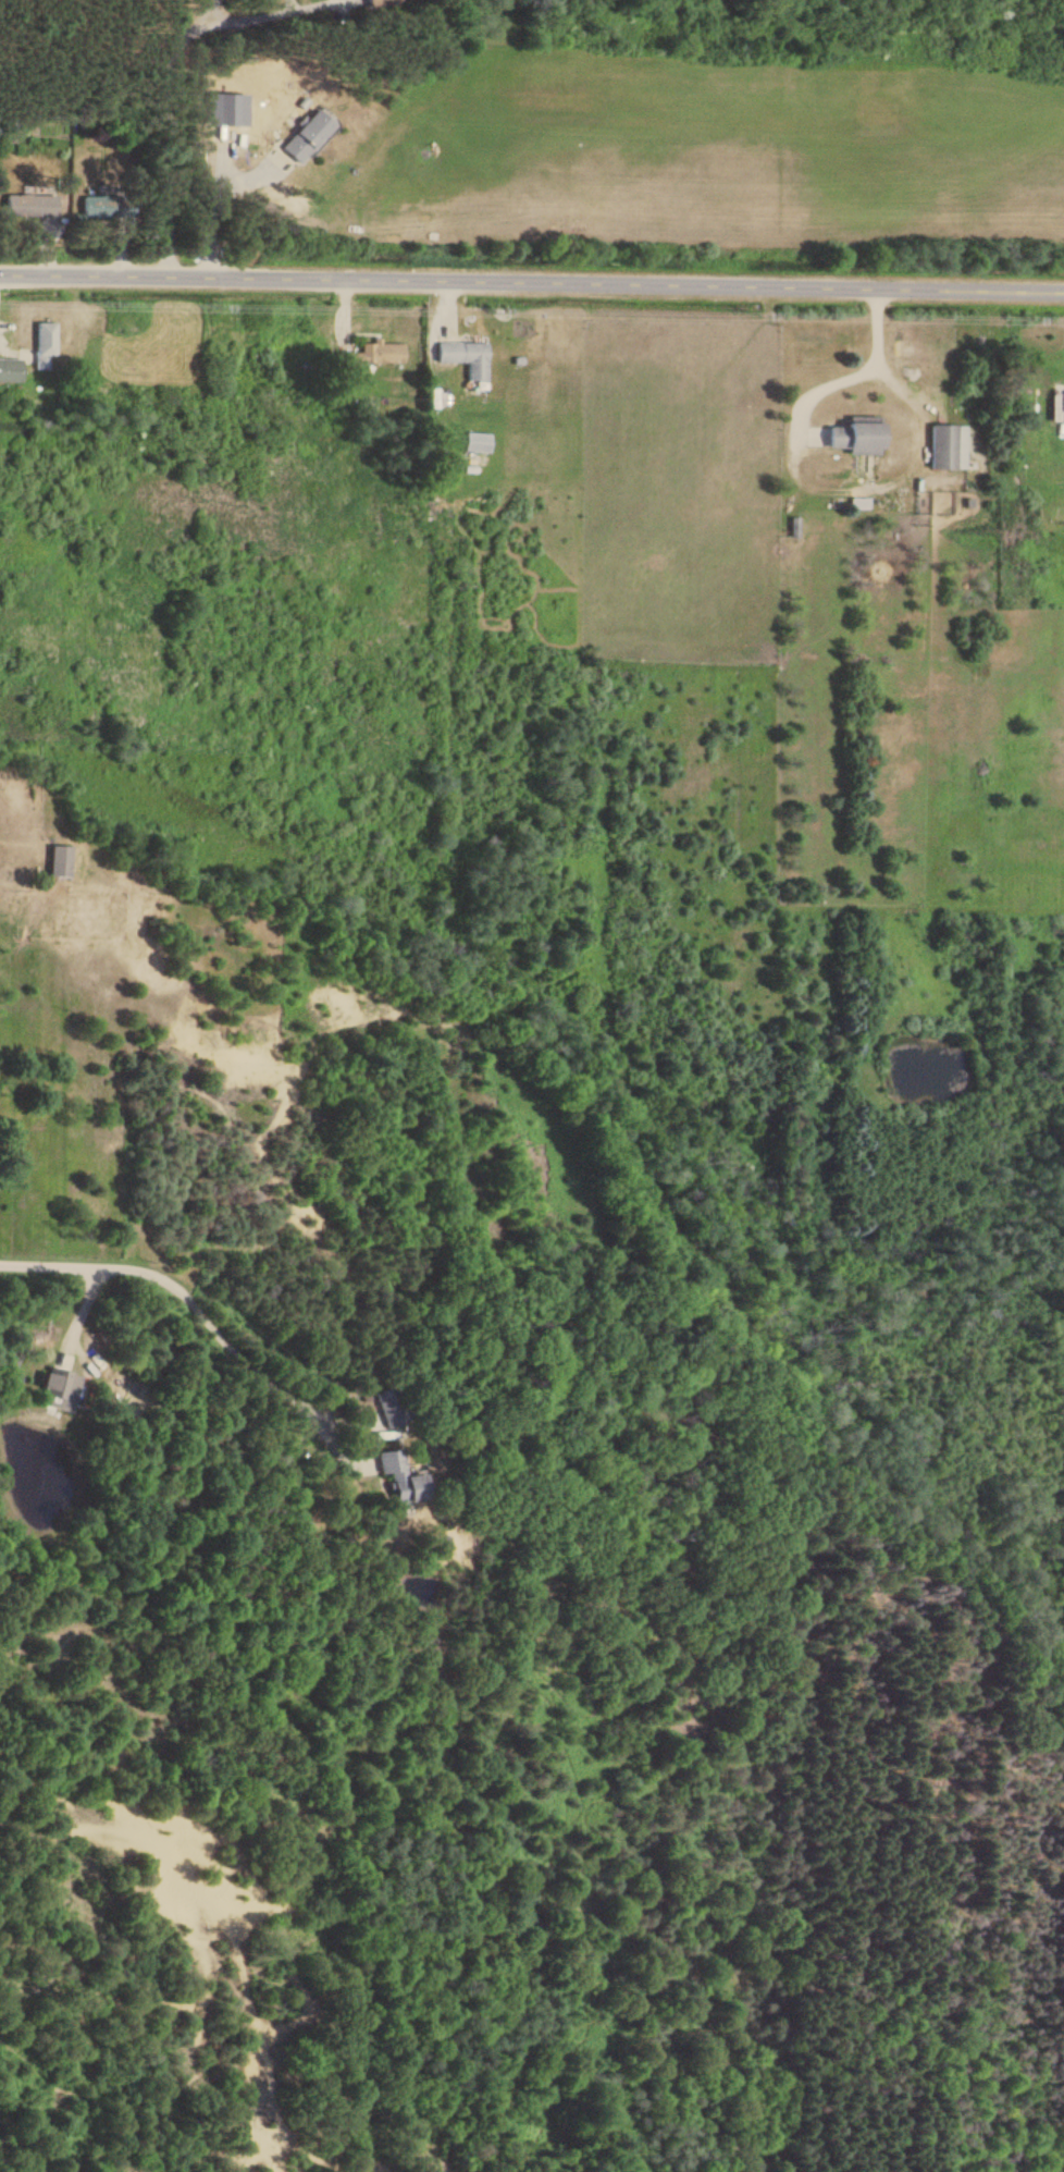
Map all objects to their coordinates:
building: (381, 3)
road: (172, 78)
building: (305, 134)
road: (212, 192)
building: (28, 204)
road: (532, 271)
building: (42, 344)
building: (383, 352)
building: (463, 356)
road: (876, 357)
building: (10, 369)
road: (826, 385)
building: (852, 437)
building: (475, 441)
building: (945, 445)
building: (57, 861)
road: (194, 1301)
building: (59, 1389)
building: (392, 1404)
building: (398, 1477)

